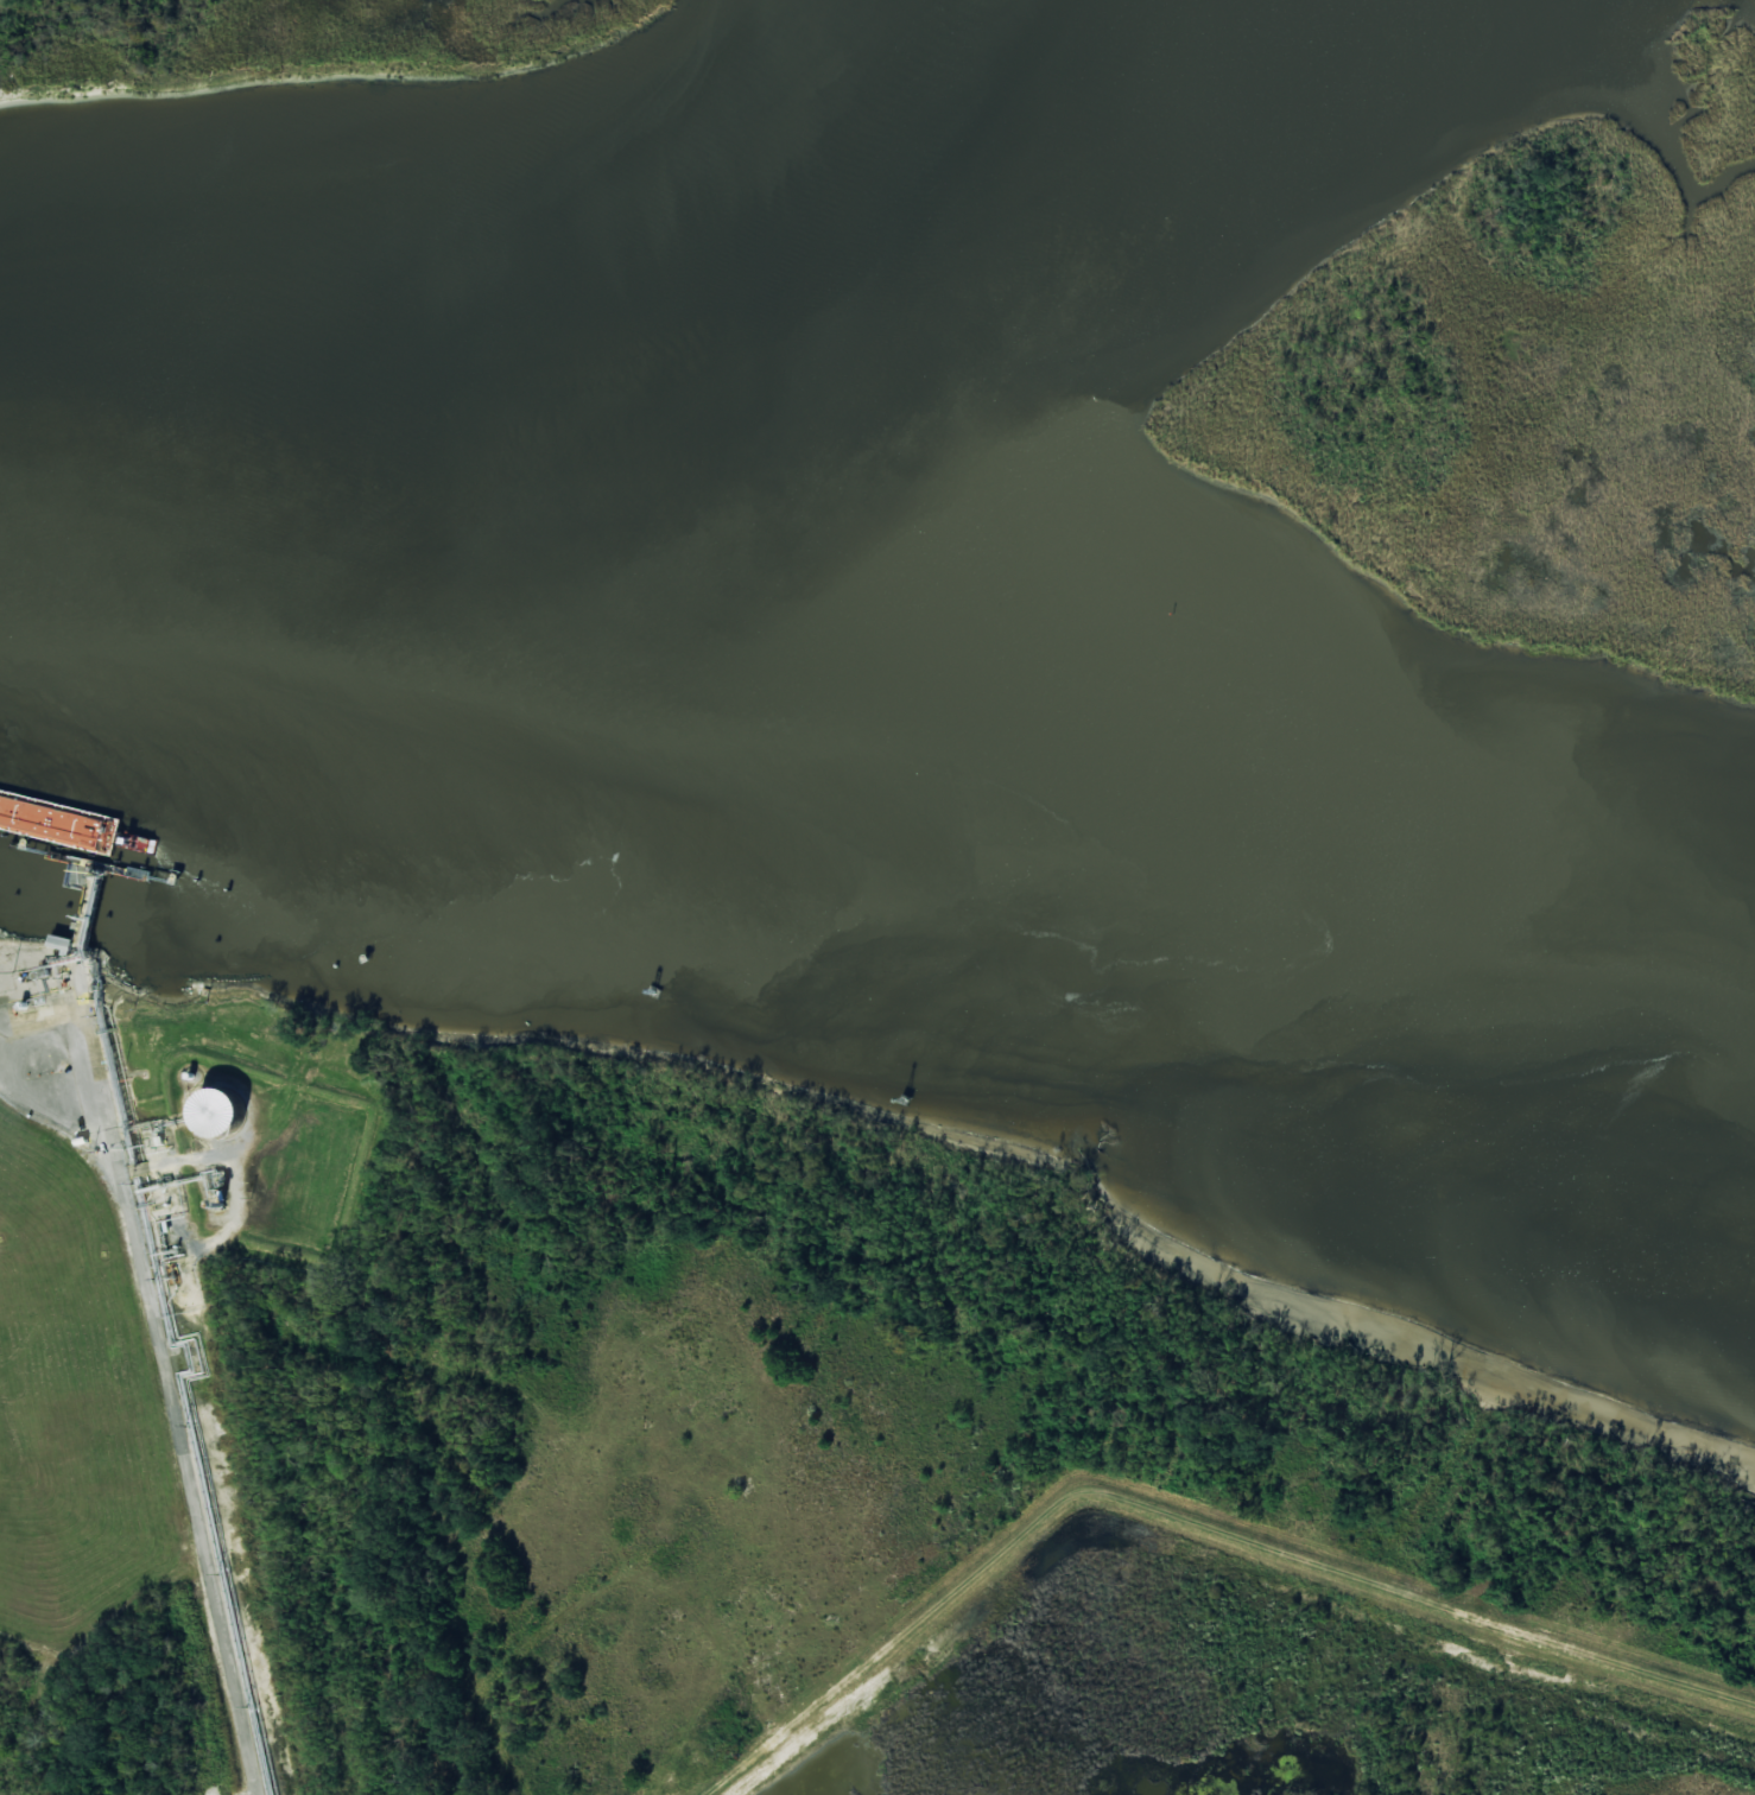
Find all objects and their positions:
river: (880, 756)
building: (220, 1112)
road: (172, 1390)

